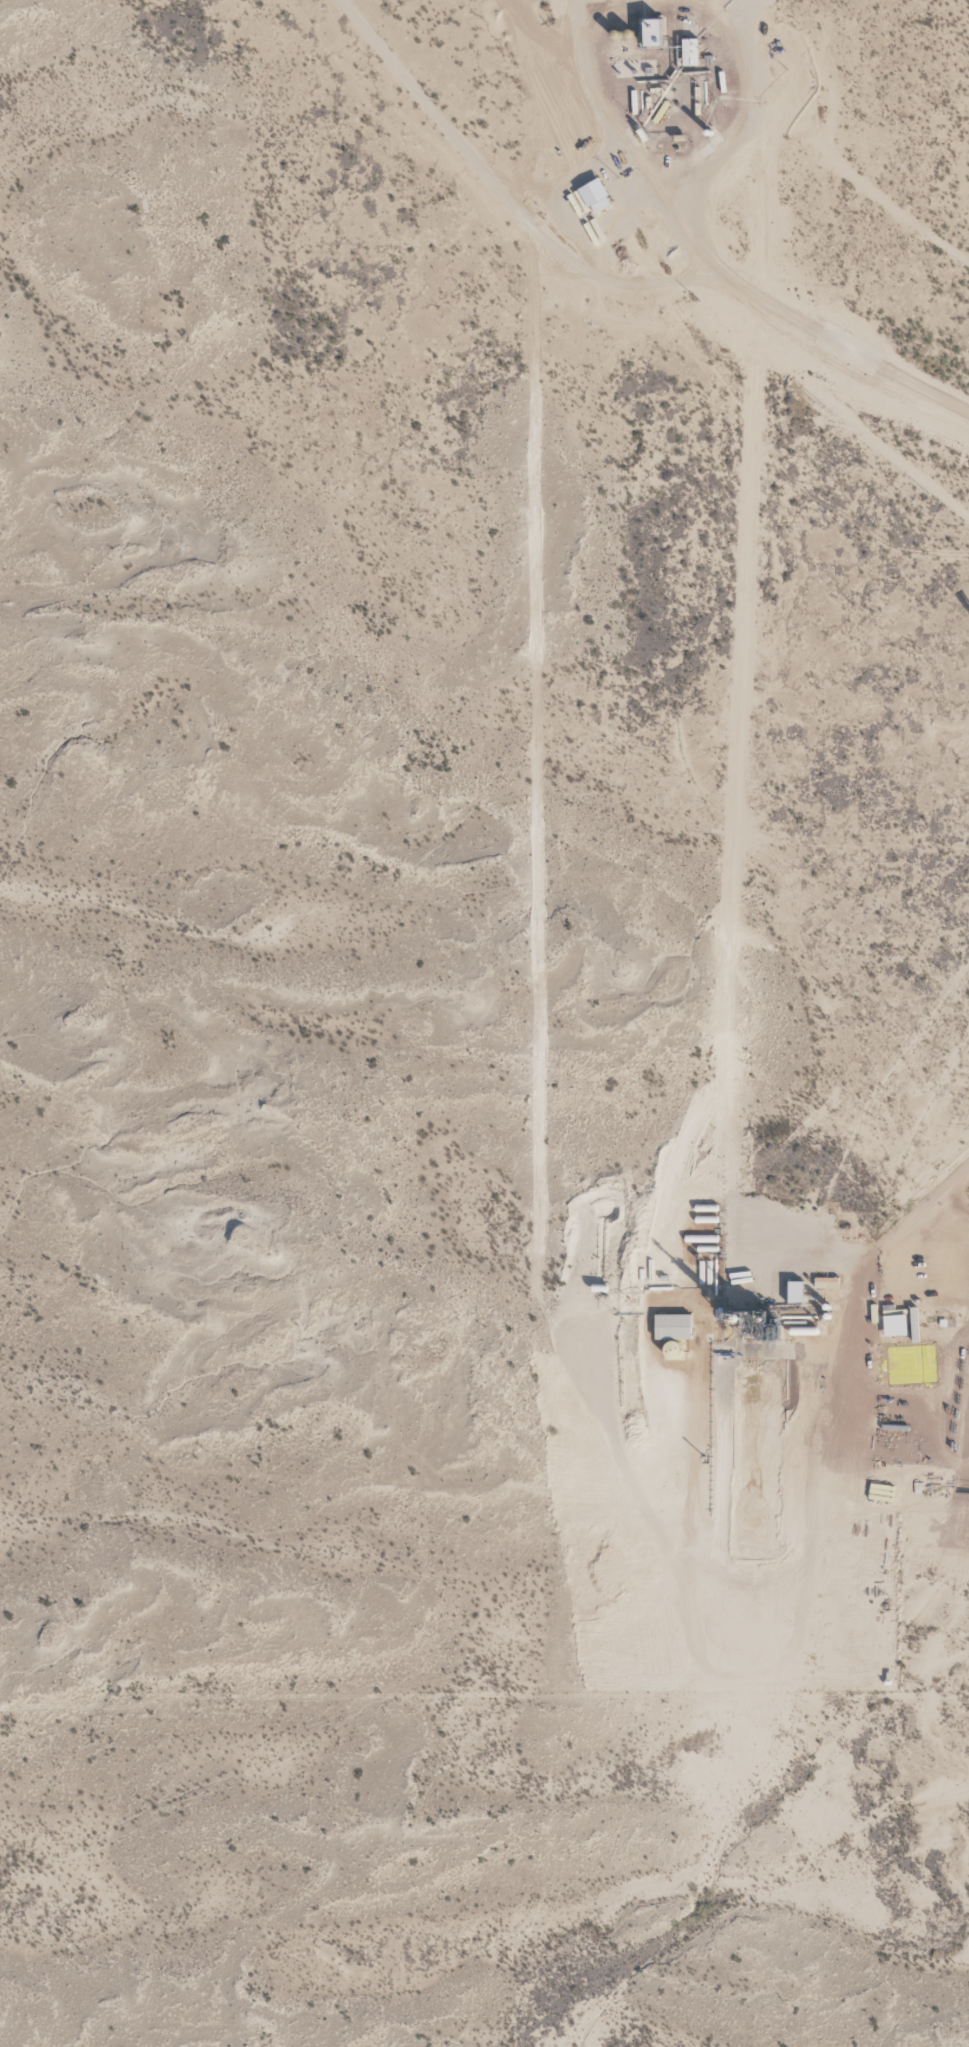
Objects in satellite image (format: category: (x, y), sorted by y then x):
road: (734, 200)
road: (938, 1214)
road: (903, 1220)

